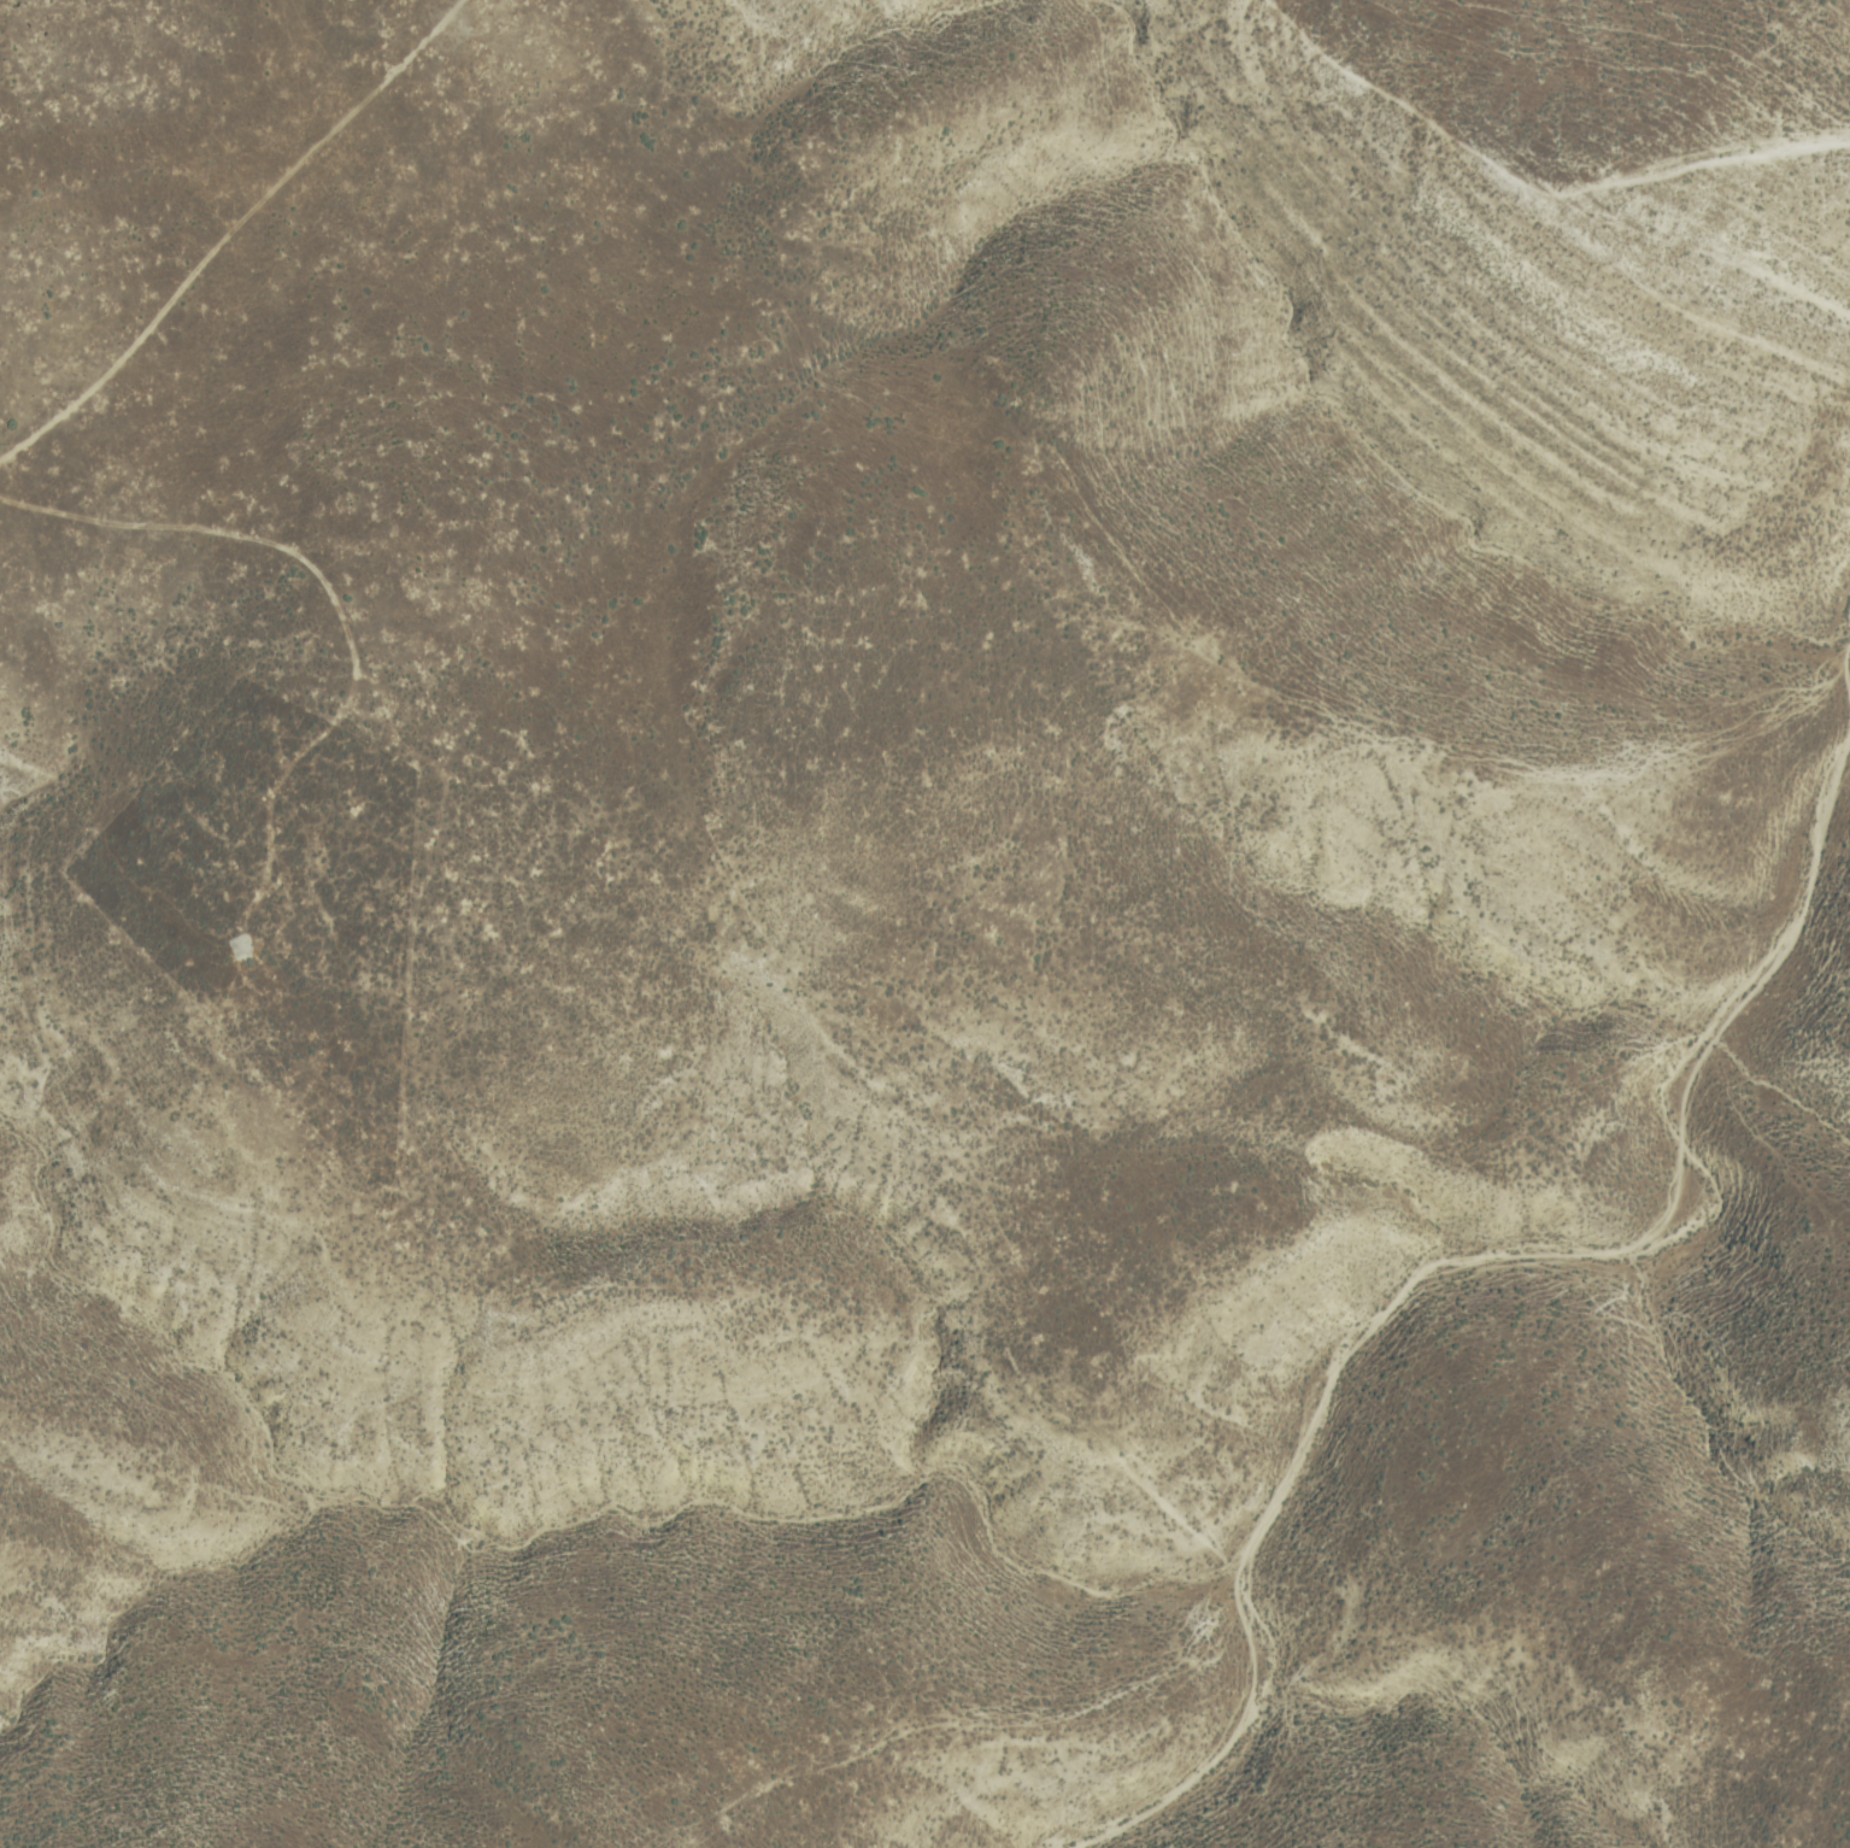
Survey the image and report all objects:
road: (237, 233)

